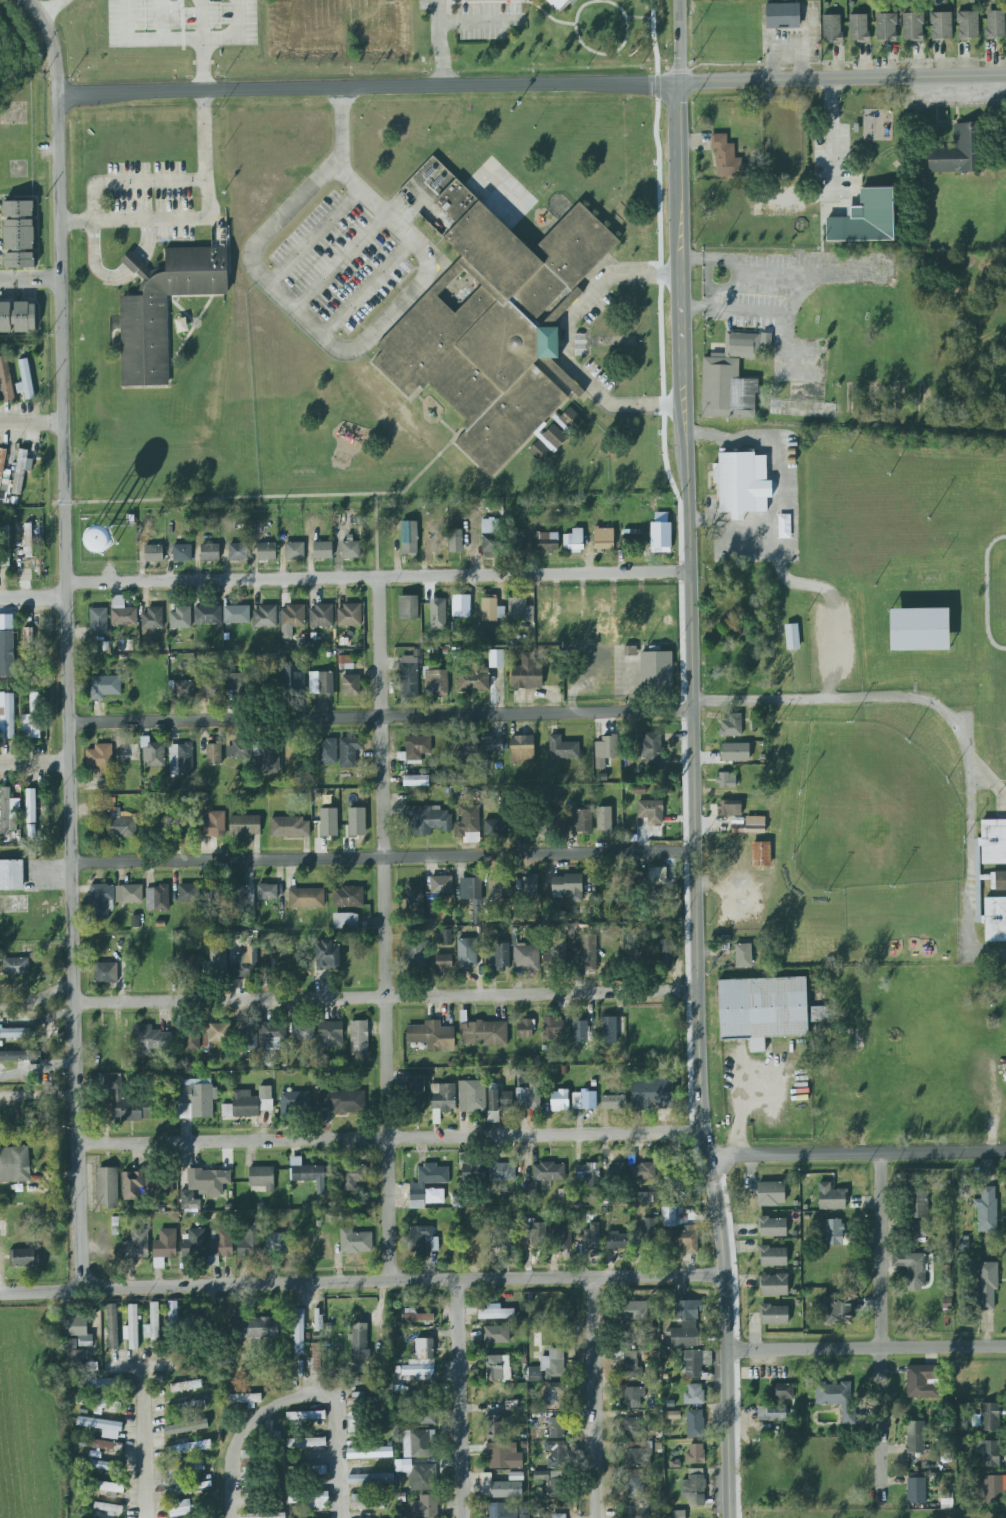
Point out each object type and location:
road: (509, 2)
road: (611, 2)
building: (557, 3)
road: (51, 9)
building: (782, 16)
road: (638, 17)
road: (480, 22)
building: (967, 24)
building: (995, 24)
building: (941, 26)
building: (886, 27)
building: (912, 27)
building: (832, 28)
building: (858, 28)
road: (237, 37)
road: (168, 40)
road: (438, 42)
road: (841, 78)
road: (367, 87)
road: (341, 126)
road: (831, 140)
building: (957, 151)
building: (726, 158)
road: (129, 181)
building: (865, 217)
road: (197, 219)
building: (18, 226)
road: (821, 231)
road: (314, 236)
building: (19, 260)
road: (340, 262)
road: (731, 262)
road: (814, 270)
road: (115, 276)
road: (30, 279)
road: (706, 283)
road: (366, 287)
road: (793, 292)
building: (162, 308)
road: (733, 308)
building: (17, 315)
building: (494, 324)
road: (564, 342)
road: (806, 346)
road: (344, 350)
road: (784, 363)
building: (731, 378)
building: (25, 380)
building: (5, 382)
building: (569, 420)
road: (30, 422)
road: (519, 449)
building: (20, 470)
building: (3, 474)
road: (777, 477)
building: (741, 483)
road: (272, 496)
building: (660, 532)
road: (375, 535)
building: (408, 537)
building: (491, 537)
building: (633, 537)
water tower: (102, 539)
building: (603, 539)
building: (27, 540)
building: (455, 541)
building: (516, 541)
building: (573, 541)
building: (545, 542)
building: (434, 543)
building: (4, 545)
building: (350, 548)
building: (294, 550)
building: (322, 550)
building: (266, 551)
building: (209, 552)
building: (237, 552)
building: (153, 553)
building: (182, 553)
road: (677, 566)
road: (377, 576)
road: (784, 577)
track: (986, 591)
road: (31, 598)
building: (408, 607)
building: (461, 607)
building: (491, 609)
building: (519, 610)
building: (122, 612)
building: (208, 614)
building: (236, 614)
building: (438, 614)
building: (348, 615)
building: (321, 616)
building: (181, 617)
building: (264, 617)
building: (151, 619)
building: (292, 619)
building: (98, 621)
building: (6, 622)
building: (918, 629)
building: (791, 636)
road: (65, 640)
building: (7, 647)
building: (27, 649)
road: (829, 649)
building: (496, 658)
building: (656, 671)
building: (526, 672)
building: (409, 675)
building: (472, 677)
building: (292, 681)
building: (320, 682)
building: (436, 682)
building: (237, 684)
building: (350, 685)
building: (104, 686)
building: (211, 688)
building: (183, 689)
building: (7, 716)
road: (381, 716)
building: (31, 719)
building: (731, 725)
road: (957, 725)
building: (491, 744)
building: (468, 746)
building: (651, 747)
building: (415, 748)
building: (562, 748)
building: (238, 750)
building: (349, 750)
building: (521, 750)
building: (604, 750)
building: (328, 751)
building: (735, 752)
building: (214, 753)
building: (153, 754)
building: (267, 754)
building: (100, 758)
building: (180, 759)
road: (693, 760)
road: (33, 763)
building: (415, 780)
building: (726, 780)
building: (105, 783)
building: (637, 790)
building: (30, 806)
building: (729, 808)
building: (8, 811)
park: (873, 811)
building: (651, 812)
building: (603, 819)
building: (427, 820)
building: (356, 821)
building: (579, 821)
building: (328, 822)
building: (214, 824)
building: (468, 824)
building: (118, 825)
building: (754, 825)
building: (244, 826)
building: (287, 826)
building: (494, 828)
building: (993, 841)
building: (760, 854)
road: (382, 857)
building: (12, 875)
building: (657, 876)
building: (626, 879)
building: (1000, 880)
building: (441, 884)
building: (528, 886)
building: (567, 888)
building: (505, 889)
building: (267, 892)
building: (188, 893)
building: (128, 894)
building: (414, 895)
building: (472, 895)
building: (217, 896)
building: (245, 896)
building: (100, 897)
building: (348, 897)
building: (157, 898)
building: (306, 898)
building: (428, 909)
building: (995, 918)
building: (345, 921)
road: (386, 928)
building: (445, 937)
building: (585, 953)
building: (666, 953)
building: (326, 954)
building: (467, 954)
building: (499, 955)
building: (555, 955)
building: (743, 955)
building: (416, 956)
building: (525, 957)
building: (274, 958)
building: (190, 962)
building: (443, 962)
building: (215, 963)
building: (245, 964)
building: (15, 966)
building: (105, 973)
road: (384, 998)
building: (761, 1008)
building: (818, 1014)
building: (553, 1027)
building: (524, 1029)
building: (608, 1030)
building: (302, 1031)
building: (579, 1031)
building: (14, 1033)
building: (215, 1033)
building: (483, 1033)
building: (330, 1034)
building: (271, 1036)
building: (432, 1036)
building: (248, 1037)
building: (358, 1037)
building: (151, 1040)
building: (191, 1041)
building: (20, 1055)
road: (36, 1068)
building: (1004, 1076)
building: (652, 1093)
building: (416, 1094)
road: (37, 1096)
building: (197, 1096)
building: (471, 1096)
building: (442, 1097)
building: (528, 1097)
building: (559, 1100)
building: (583, 1100)
building: (341, 1101)
building: (295, 1102)
building: (612, 1102)
building: (248, 1103)
building: (498, 1103)
building: (126, 1104)
road: (741, 1112)
road: (390, 1139)
road: (856, 1153)
building: (14, 1164)
building: (642, 1171)
building: (502, 1172)
building: (473, 1173)
building: (616, 1173)
building: (588, 1174)
building: (351, 1176)
building: (543, 1176)
building: (261, 1179)
building: (208, 1181)
building: (158, 1182)
building: (131, 1185)
building: (417, 1186)
building: (107, 1188)
building: (771, 1194)
building: (647, 1197)
building: (831, 1197)
building: (986, 1210)
building: (918, 1213)
building: (668, 1217)
building: (771, 1227)
building: (648, 1230)
building: (832, 1232)
building: (535, 1233)
building: (561, 1236)
building: (589, 1236)
building: (505, 1238)
building: (422, 1239)
building: (685, 1239)
building: (249, 1240)
building: (617, 1240)
building: (355, 1241)
building: (193, 1243)
building: (221, 1244)
building: (136, 1245)
building: (277, 1245)
building: (164, 1247)
building: (773, 1256)
building: (23, 1257)
building: (911, 1269)
road: (364, 1281)
building: (988, 1284)
building: (773, 1285)
building: (685, 1308)
building: (835, 1309)
building: (633, 1310)
building: (495, 1312)
building: (773, 1314)
building: (416, 1316)
road: (882, 1320)
building: (154, 1325)
building: (112, 1326)
building: (131, 1327)
building: (260, 1328)
building: (78, 1329)
building: (298, 1331)
building: (496, 1334)
building: (686, 1335)
building: (359, 1340)
road: (867, 1347)
building: (424, 1348)
building: (74, 1357)
building: (316, 1357)
building: (695, 1363)
building: (637, 1364)
building: (548, 1366)
building: (418, 1367)
building: (497, 1368)
building: (921, 1381)
building: (103, 1384)
building: (186, 1386)
building: (781, 1391)
building: (693, 1395)
building: (554, 1396)
road: (306, 1397)
road: (593, 1397)
building: (632, 1397)
building: (244, 1398)
building: (836, 1398)
road: (459, 1399)
building: (96, 1402)
building: (186, 1406)
building: (771, 1413)
building: (421, 1414)
building: (671, 1415)
building: (305, 1416)
building: (989, 1417)
building: (354, 1423)
building: (694, 1423)
building: (102, 1427)
building: (186, 1427)
building: (494, 1427)
building: (557, 1428)
building: (632, 1429)
building: (915, 1437)
road: (154, 1439)
building: (305, 1442)
building: (418, 1443)
building: (105, 1445)
building: (186, 1446)
building: (369, 1452)
building: (988, 1453)
building: (556, 1454)
building: (638, 1454)
building: (694, 1454)
building: (503, 1456)
building: (105, 1466)
building: (184, 1466)
building: (248, 1469)
building: (418, 1475)
building: (540, 1475)
building: (370, 1479)
building: (634, 1483)
building: (556, 1484)
building: (107, 1486)
building: (187, 1487)
building: (508, 1487)
building: (694, 1487)
building: (991, 1489)
building: (916, 1491)
building: (294, 1497)
building: (318, 1500)
building: (366, 1502)
building: (424, 1507)
building: (183, 1508)
building: (108, 1509)
building: (524, 1509)
building: (501, 1511)
building: (632, 1511)
building: (678, 1514)
building: (262, 1515)
building: (558, 1516)

